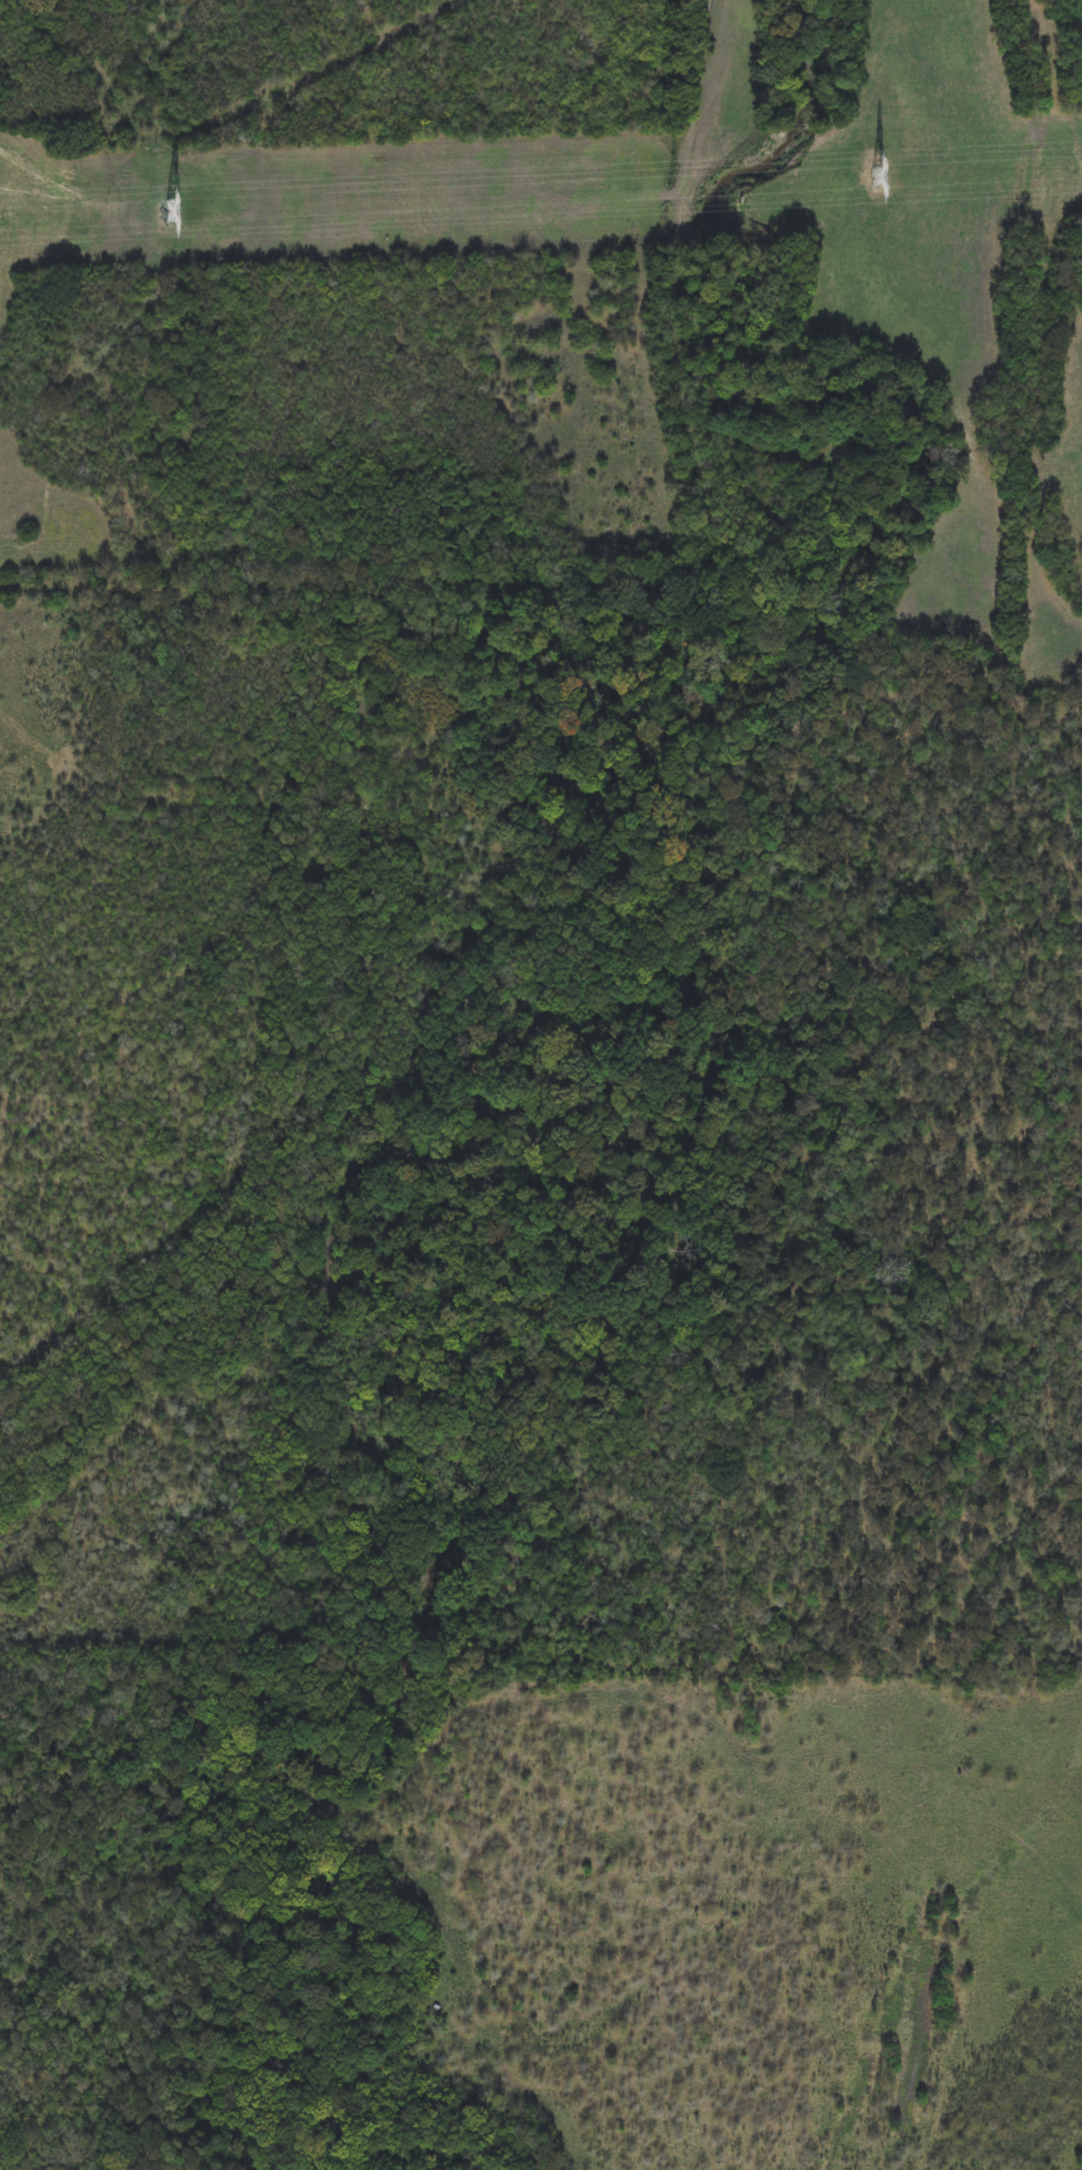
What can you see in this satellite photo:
power tower: (880, 177)
power tower: (176, 212)
road: (628, 573)

